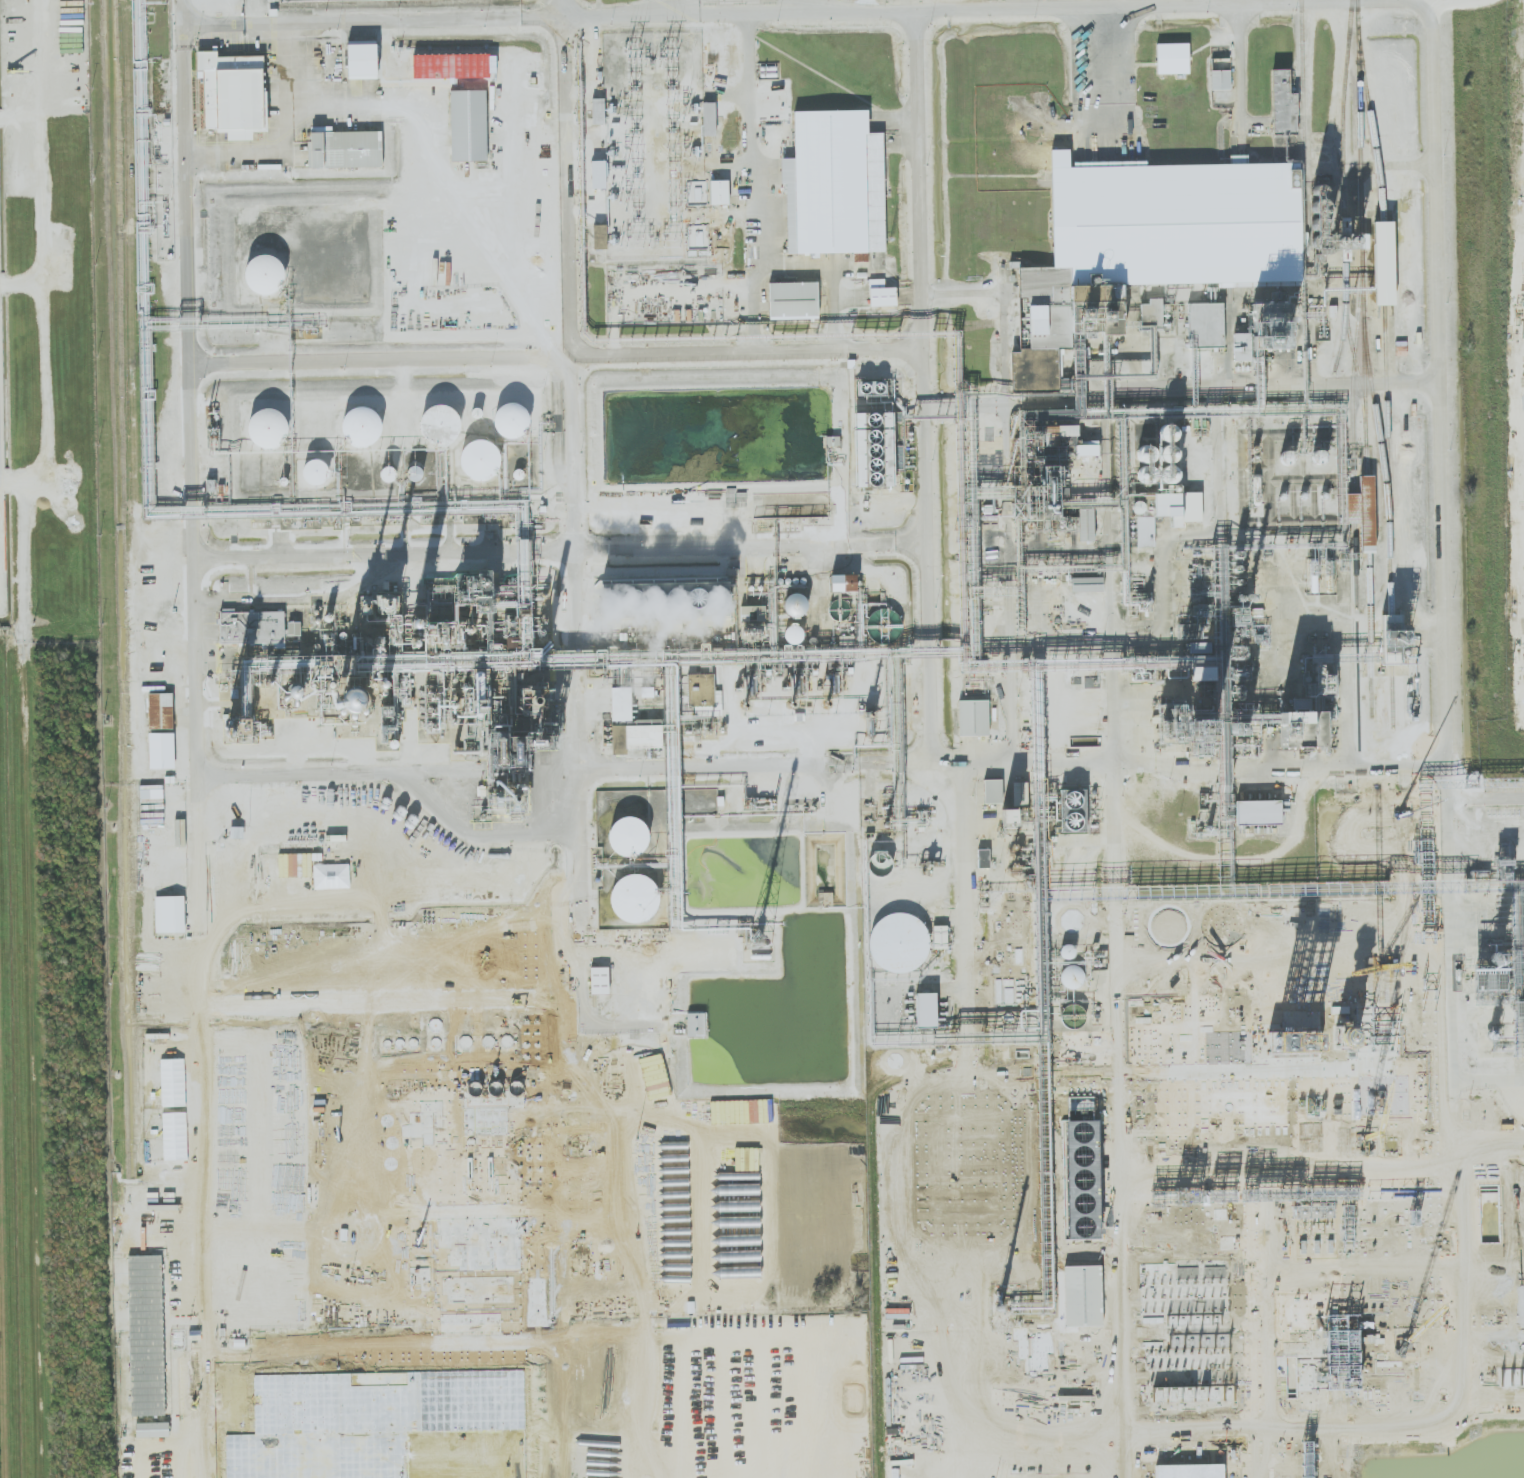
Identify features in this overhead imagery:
parking lot: (320, 1)
power tower: (670, 47)
power tower: (633, 48)
building: (1172, 58)
building: (362, 61)
road: (1240, 64)
railway: (1302, 91)
building: (232, 93)
building: (1283, 104)
building: (598, 111)
building: (709, 118)
railway: (1370, 118)
building: (468, 125)
railway: (1343, 141)
power substation: (653, 145)
building: (345, 148)
building: (835, 184)
road: (751, 186)
building: (719, 192)
building: (600, 237)
railway: (1361, 237)
building: (1150, 245)
building: (1384, 263)
railway: (1384, 263)
building: (264, 274)
building: (881, 294)
building: (793, 300)
building: (1023, 306)
building: (1206, 325)
railway: (1343, 327)
building: (1240, 353)
railway: (1356, 364)
road: (558, 368)
railway: (1353, 373)
railway: (1375, 413)
building: (511, 421)
building: (441, 423)
building: (363, 427)
building: (267, 428)
building: (1087, 449)
building: (480, 459)
building: (315, 472)
building: (1178, 507)
railway: (1354, 508)
road: (1442, 508)
building: (1362, 511)
railway: (1368, 513)
railway: (1387, 516)
building: (1086, 525)
building: (1145, 531)
road: (833, 554)
railway: (1355, 566)
building: (843, 583)
building: (1087, 584)
building: (663, 598)
building: (795, 606)
building: (252, 627)
building: (794, 634)
railway: (1370, 634)
road: (580, 652)
road: (932, 662)
building: (701, 690)
building: (621, 704)
building: (160, 711)
building: (973, 718)
building: (1304, 727)
building: (636, 737)
road: (200, 739)
building: (161, 750)
road: (421, 776)
building: (992, 791)
building: (1020, 793)
road: (1486, 797)
building: (1258, 812)
building: (1009, 818)
building: (629, 837)
building: (983, 858)
building: (634, 899)
building: (169, 914)
building: (899, 942)
building: (1072, 977)
building: (599, 980)
road: (585, 986)
building: (926, 1009)
building: (696, 1024)
road: (1488, 1080)
building: (173, 1082)
road: (969, 1102)
building: (175, 1136)
building: (1082, 1296)
road: (1121, 1327)
road: (1262, 1327)
road: (1334, 1427)
road: (922, 1431)

